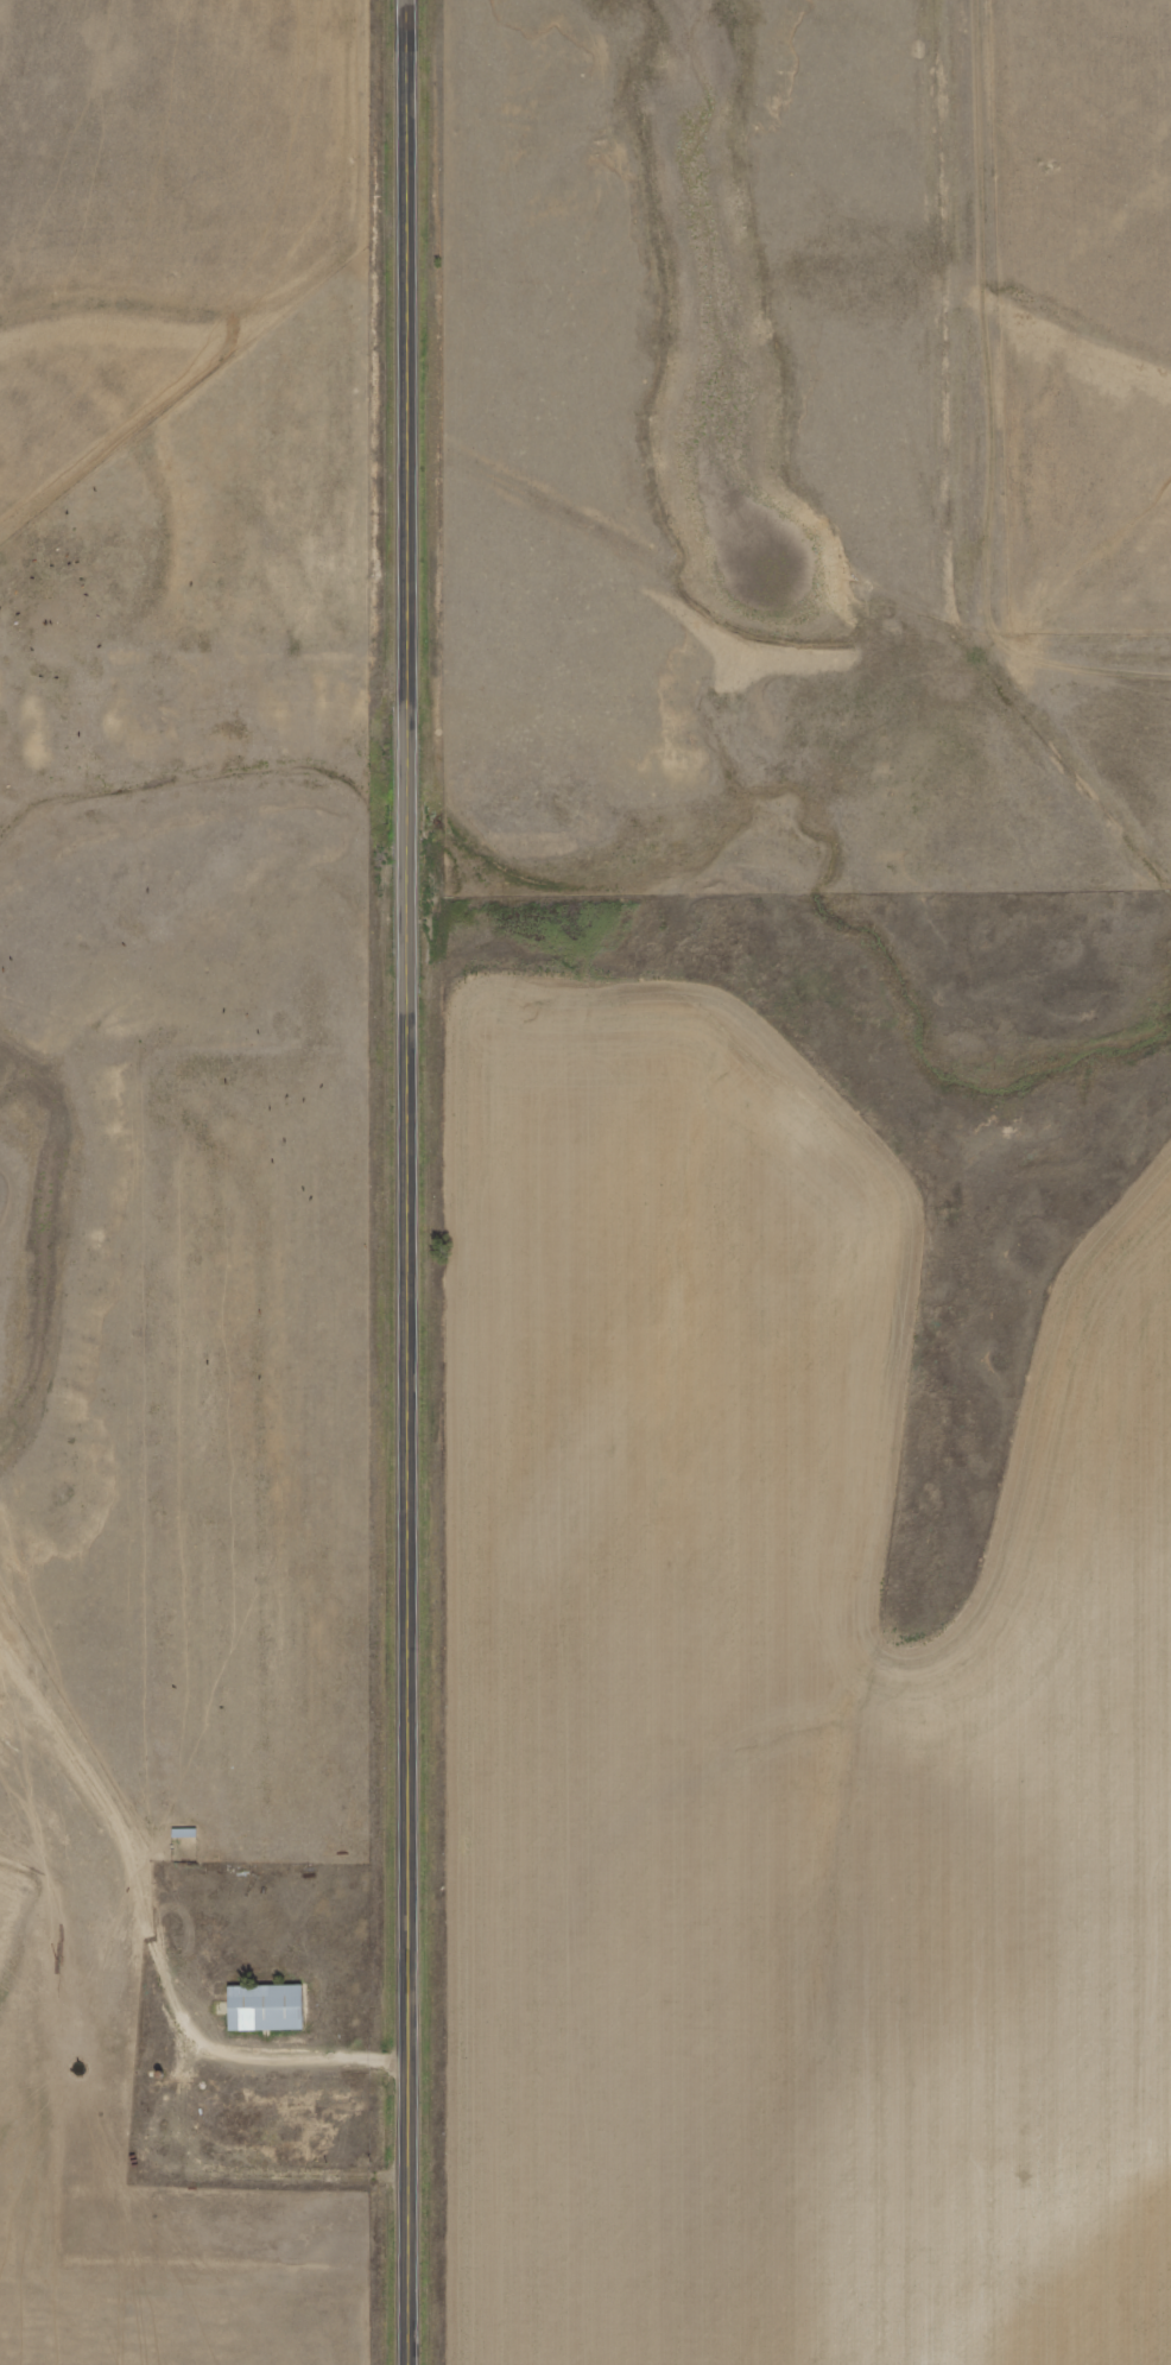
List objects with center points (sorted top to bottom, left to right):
road: (416, 322)
road: (203, 651)
road: (416, 1505)
road: (113, 1935)

